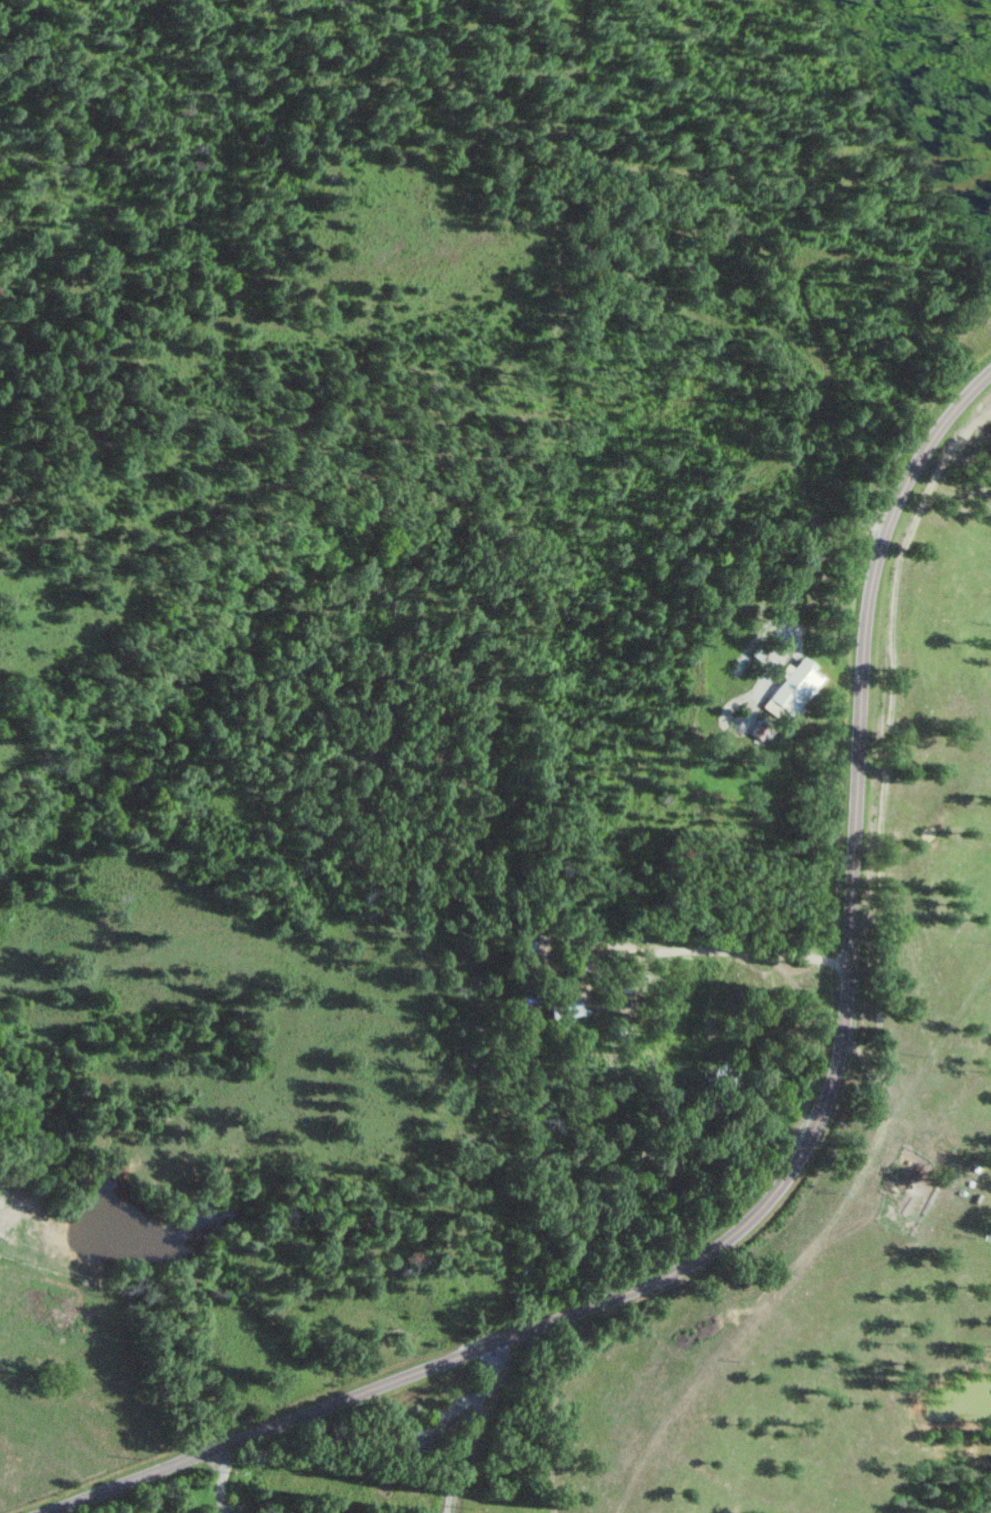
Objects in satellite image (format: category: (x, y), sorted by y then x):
road: (546, 462)
building: (760, 651)
building: (796, 686)
building: (529, 947)
building: (571, 1008)
road: (787, 1166)
road: (776, 1280)

